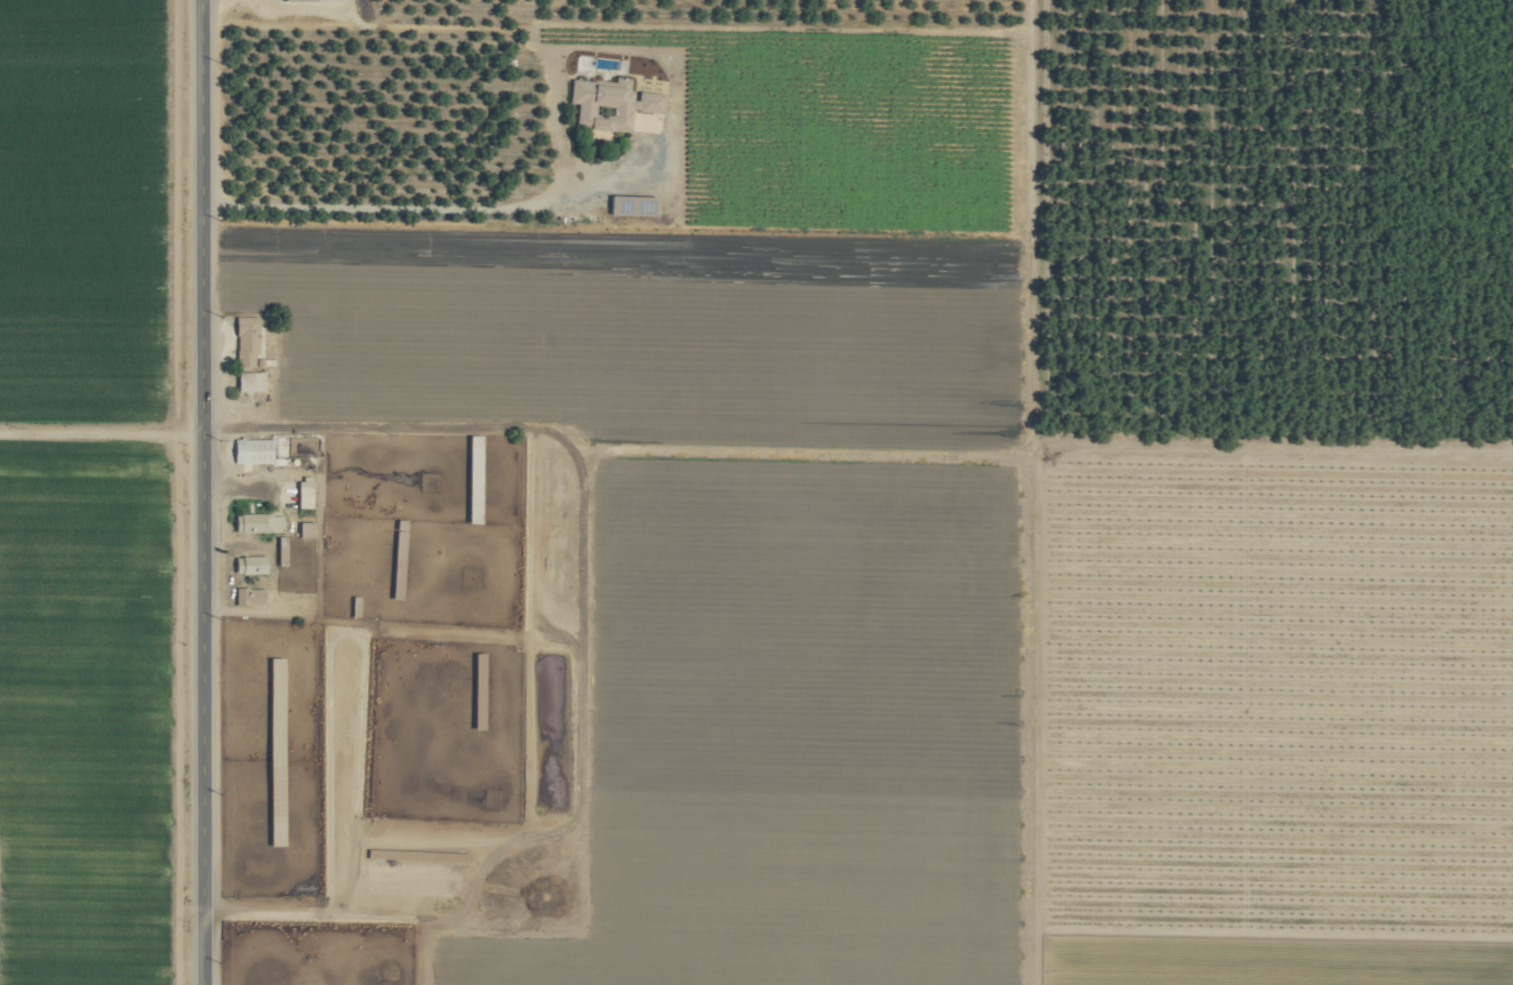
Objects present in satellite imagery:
building: (608, 104)
road: (406, 206)
building: (244, 340)
building: (248, 381)
road: (355, 427)
road: (97, 438)
building: (250, 451)
road: (195, 492)
crop: (756, 492)
building: (256, 523)
building: (304, 529)
building: (247, 565)
building: (247, 596)
crop: (394, 699)

